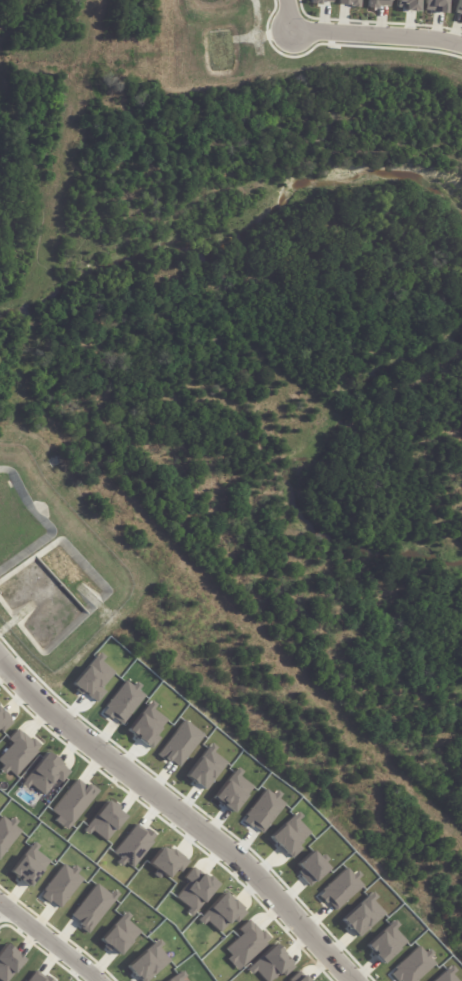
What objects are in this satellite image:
building: (321, 1)
building: (349, 3)
building: (378, 3)
building: (435, 6)
building: (458, 8)
road: (290, 16)
road: (378, 35)
building: (92, 679)
park: (260, 679)
building: (122, 702)
building: (4, 721)
building: (146, 726)
building: (179, 744)
building: (17, 753)
building: (205, 768)
building: (45, 774)
building: (232, 791)
building: (73, 802)
building: (263, 811)
road: (182, 815)
building: (105, 821)
building: (7, 833)
building: (290, 835)
building: (133, 846)
building: (166, 862)
building: (28, 865)
building: (311, 867)
building: (60, 885)
building: (340, 888)
building: (195, 890)
building: (92, 907)
building: (221, 913)
building: (362, 915)
building: (119, 935)
road: (50, 940)
building: (385, 942)
building: (246, 944)
building: (8, 962)
building: (148, 962)
building: (270, 964)
building: (412, 966)
building: (445, 975)
building: (38, 977)
building: (177, 977)
building: (301, 978)

